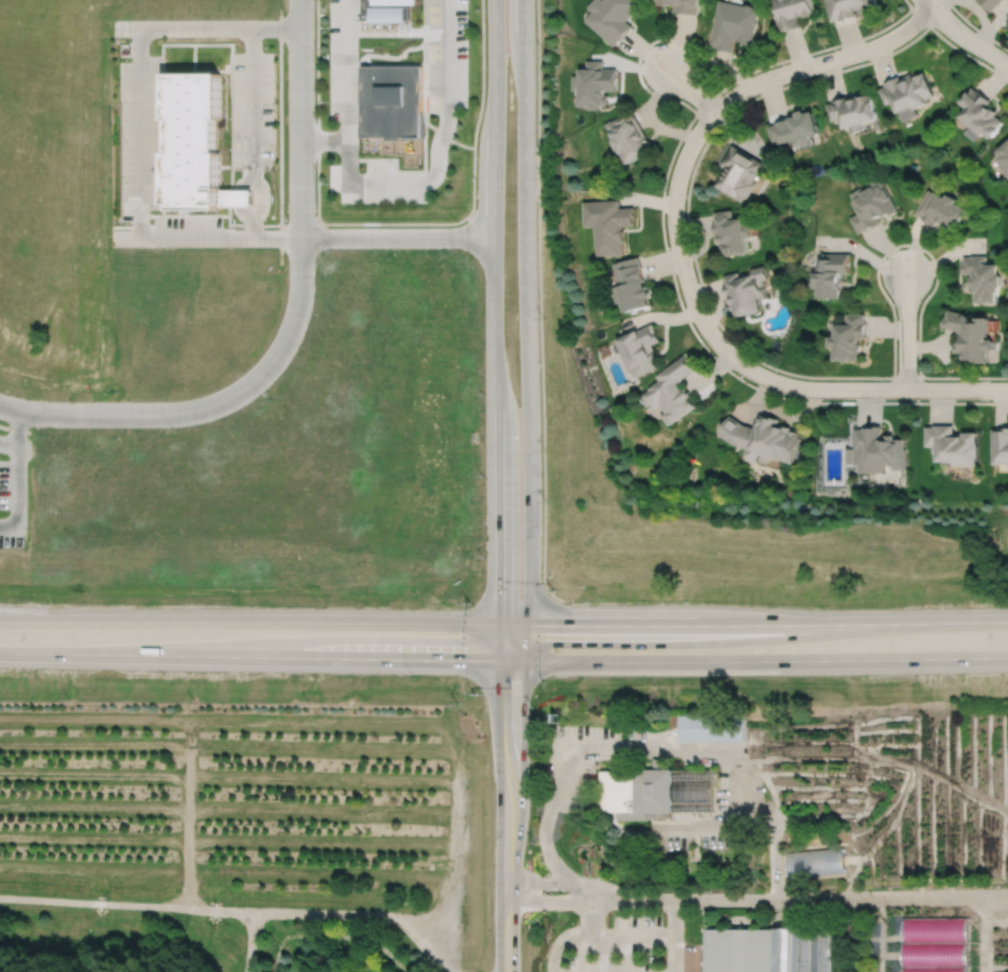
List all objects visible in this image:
road: (908, 4)
building: (992, 4)
building: (681, 6)
building: (849, 8)
building: (387, 10)
building: (793, 14)
building: (613, 17)
building: (734, 26)
street lamp: (327, 27)
road: (207, 28)
road: (974, 28)
road: (963, 37)
street lamp: (468, 41)
street lamp: (265, 46)
road: (645, 46)
street lamp: (542, 50)
parking lot: (446, 54)
street lamp: (314, 55)
street lamp: (126, 58)
street lamp: (166, 58)
road: (823, 62)
street lamp: (228, 80)
street lamp: (274, 82)
building: (596, 82)
parking lot: (343, 86)
road: (425, 88)
road: (690, 90)
building: (907, 90)
street lamp: (468, 97)
road: (253, 98)
street lamp: (126, 100)
building: (391, 100)
street lamp: (327, 101)
building: (852, 109)
parking lot: (253, 110)
building: (979, 111)
street lamp: (228, 116)
road: (301, 118)
street lamp: (274, 120)
building: (793, 126)
road: (139, 132)
road: (281, 135)
building: (628, 135)
road: (325, 139)
street lamp: (126, 141)
building: (192, 141)
street lamp: (228, 148)
street lamp: (274, 151)
building: (1003, 155)
street lamp: (390, 160)
parking lot: (151, 163)
building: (739, 172)
street lamp: (446, 176)
street lamp: (476, 178)
street lamp: (126, 182)
street lamp: (326, 183)
road: (390, 183)
road: (494, 185)
road: (240, 195)
building: (236, 196)
road: (260, 196)
building: (871, 204)
building: (941, 208)
street lamp: (165, 211)
street lamp: (286, 214)
street lamp: (126, 222)
road: (391, 223)
road: (299, 224)
building: (612, 225)
road: (253, 231)
building: (730, 231)
road: (206, 237)
road: (397, 237)
street lamp: (455, 248)
street lamp: (329, 249)
road: (666, 256)
building: (830, 274)
building: (983, 277)
street lamp: (314, 284)
building: (631, 284)
building: (745, 290)
road: (540, 304)
road: (525, 312)
street lamp: (544, 316)
road: (906, 331)
building: (971, 335)
building: (848, 336)
road: (732, 340)
building: (639, 349)
road: (737, 361)
street lamp: (242, 371)
road: (905, 377)
building: (669, 390)
street lamp: (481, 393)
street lamp: (71, 399)
road: (494, 401)
road: (208, 406)
street lamp: (171, 427)
building: (762, 439)
building: (954, 445)
building: (1000, 445)
road: (8, 447)
building: (879, 450)
road: (16, 476)
street lamp: (482, 476)
street lamp: (547, 500)
road: (495, 528)
street lamp: (483, 557)
street lamp: (553, 589)
traffic signals: (495, 597)
street lamp: (600, 597)
street lamp: (466, 600)
road: (922, 622)
road: (248, 623)
road: (511, 625)
traffic signals: (546, 625)
road: (613, 625)
road: (768, 626)
road: (496, 642)
road: (525, 642)
road: (131, 654)
road: (379, 657)
traffic signals: (466, 659)
road: (510, 660)
road: (766, 661)
street lamp: (413, 677)
traffic signals: (523, 681)
street lamp: (543, 683)
street lamp: (473, 695)
road: (191, 721)
road: (522, 722)
road: (426, 723)
road: (183, 724)
building: (711, 727)
road: (580, 747)
road: (732, 747)
building: (654, 792)
road: (499, 816)
road: (548, 855)
building: (813, 864)
road: (515, 878)
road: (557, 883)
road: (809, 899)
road: (554, 902)
road: (235, 909)
road: (591, 911)
road: (674, 916)
road: (620, 933)
parking lot: (618, 945)
building: (936, 945)
building: (738, 950)
building: (802, 950)

